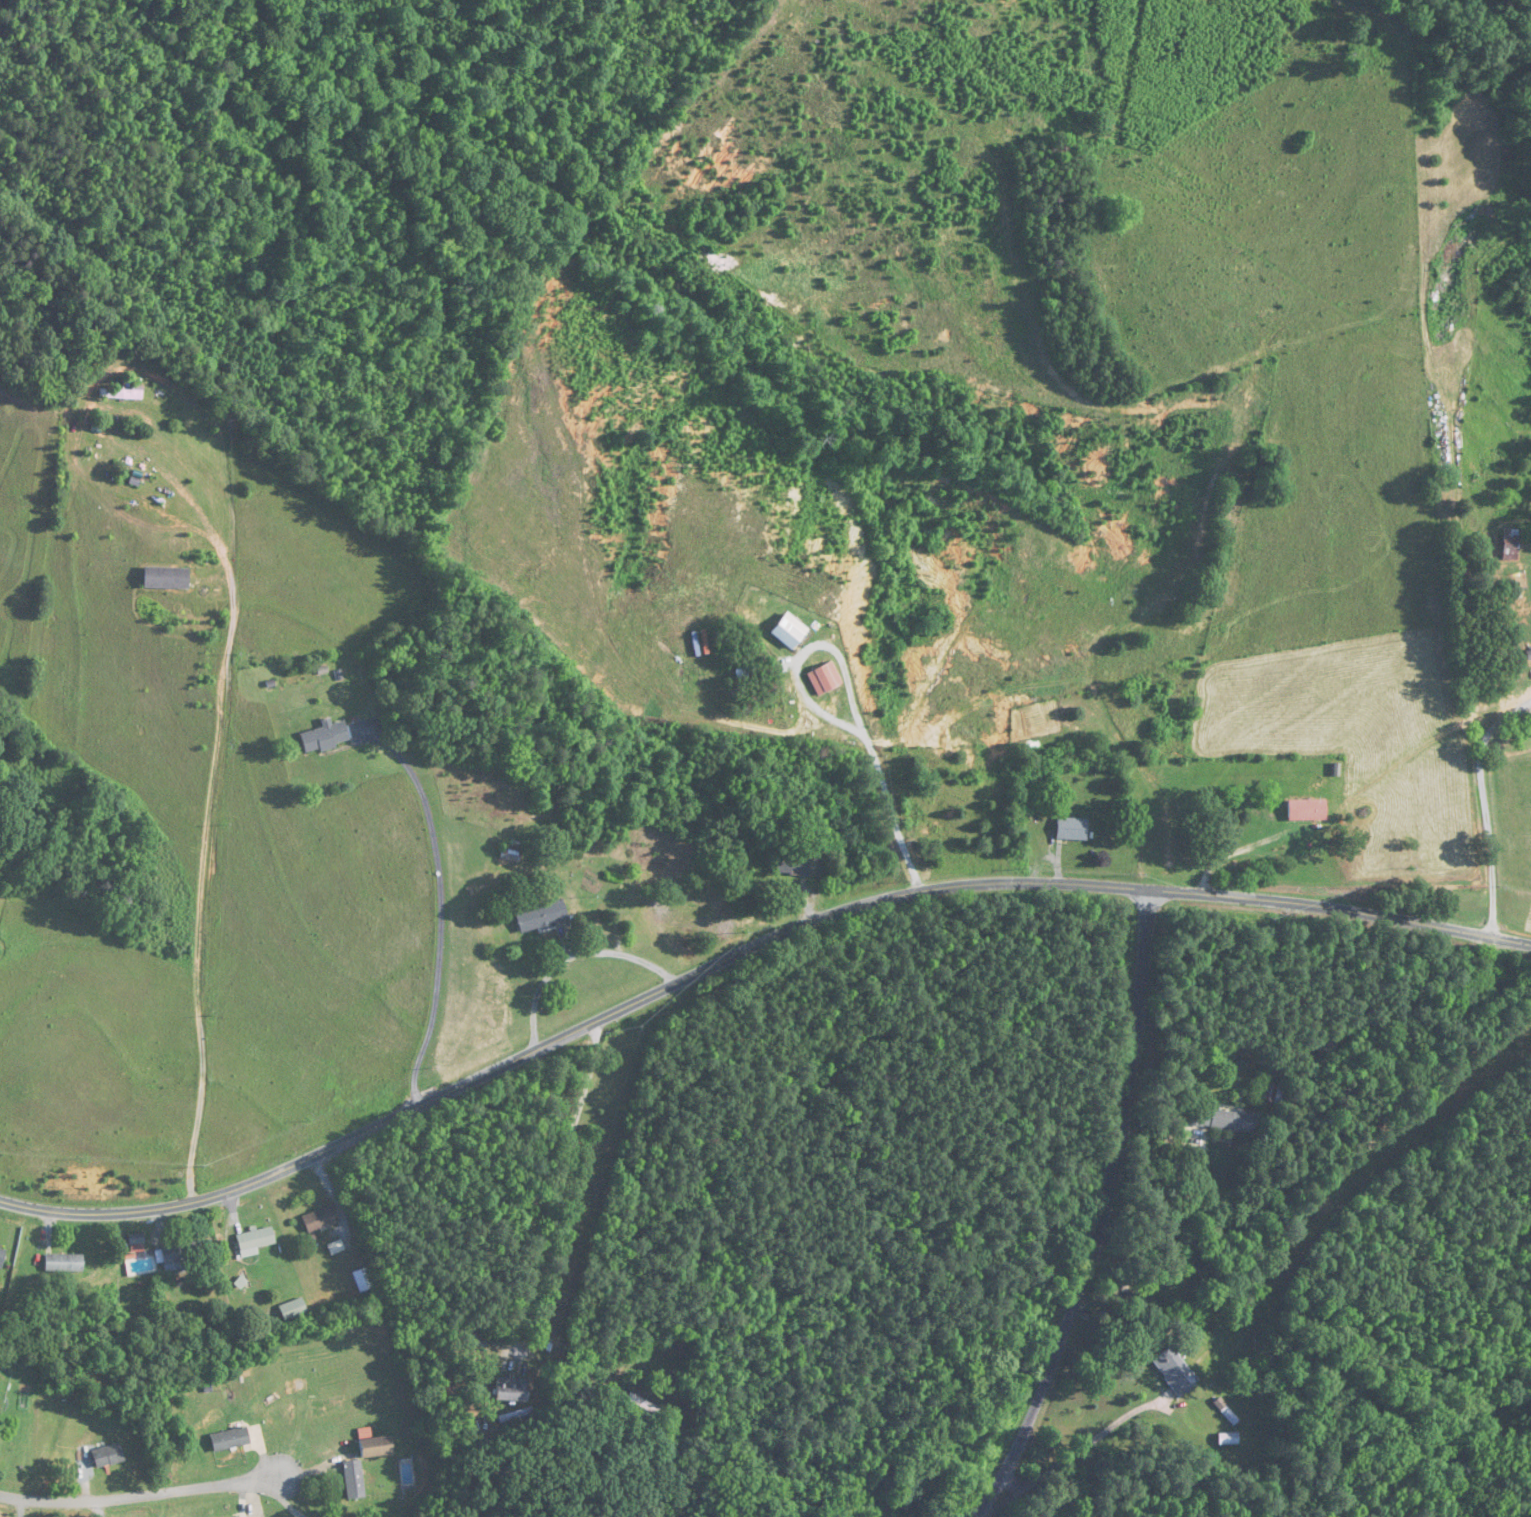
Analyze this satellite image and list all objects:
building: (123, 394)
building: (1508, 544)
building: (1523, 604)
road: (852, 700)
building: (1171, 730)
building: (327, 738)
road: (1486, 808)
building: (1303, 811)
building: (1069, 830)
building: (794, 866)
road: (442, 904)
building: (543, 917)
road: (744, 950)
building: (1270, 1094)
building: (1218, 1122)
road: (557, 1187)
road: (1103, 1214)
building: (321, 1219)
building: (256, 1242)
building: (181, 1255)
building: (3, 1256)
building: (65, 1263)
building: (363, 1280)
building: (294, 1310)
building: (1170, 1371)
building: (513, 1391)
building: (644, 1404)
building: (329, 1407)
building: (522, 1413)
building: (1224, 1438)
building: (232, 1440)
building: (378, 1448)
building: (110, 1456)
building: (355, 1481)
road: (141, 1498)
road: (287, 1503)

